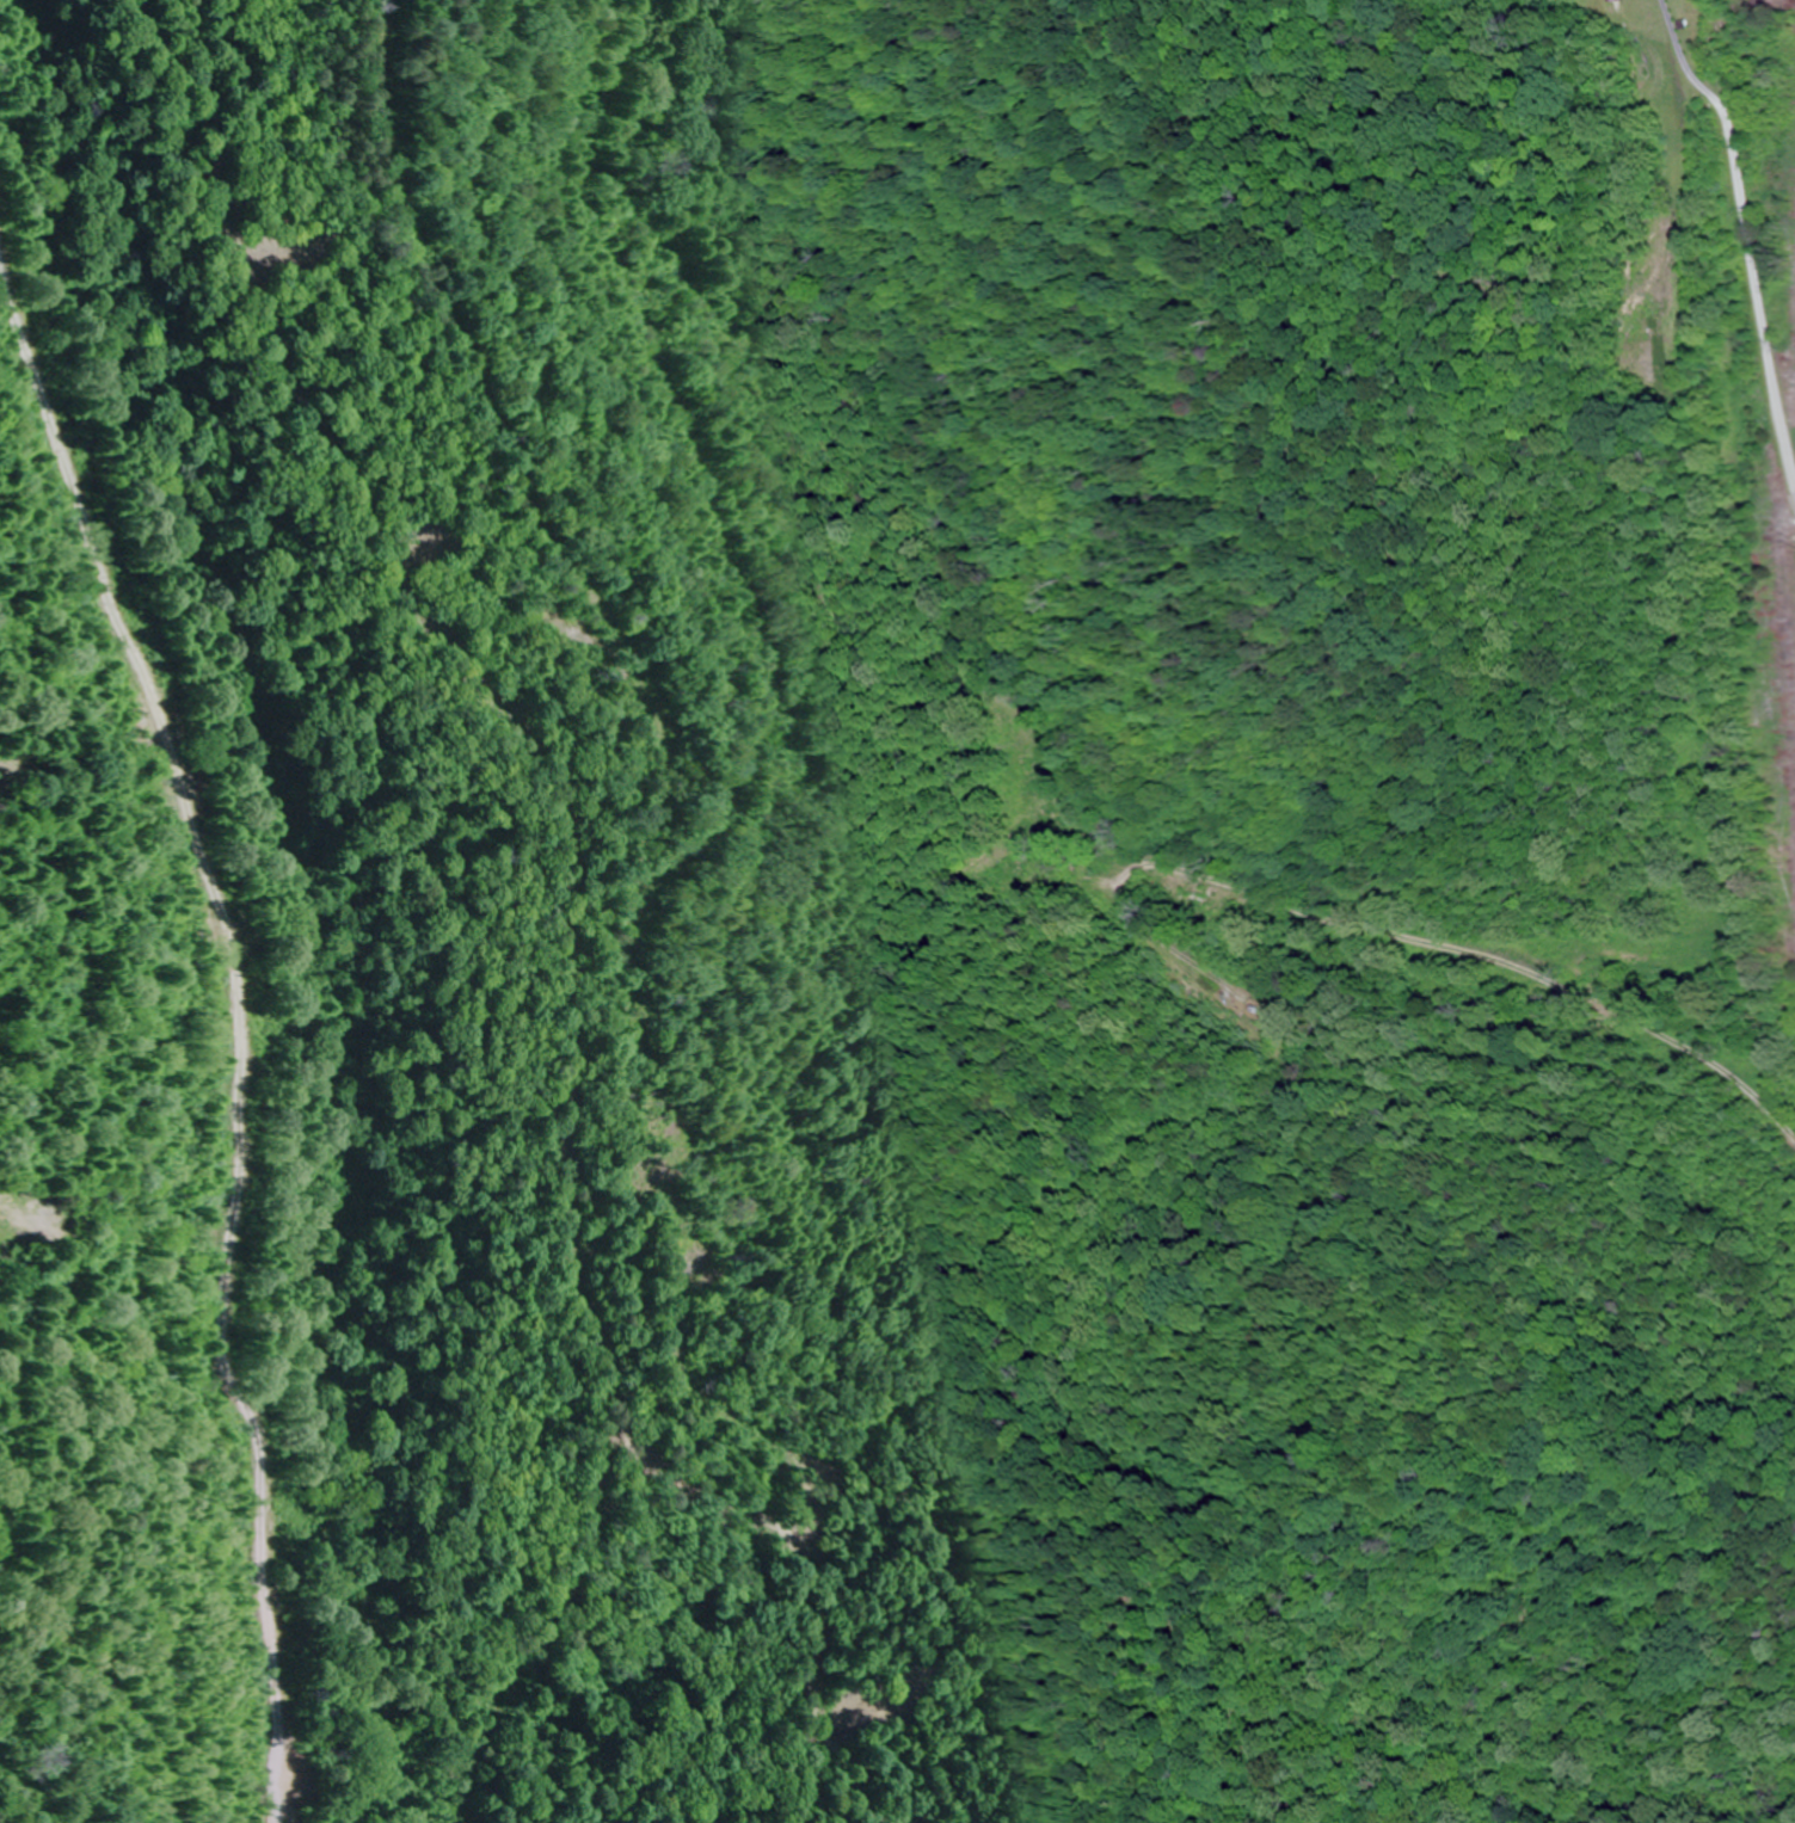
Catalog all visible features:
road: (1748, 211)
road: (1502, 1011)

